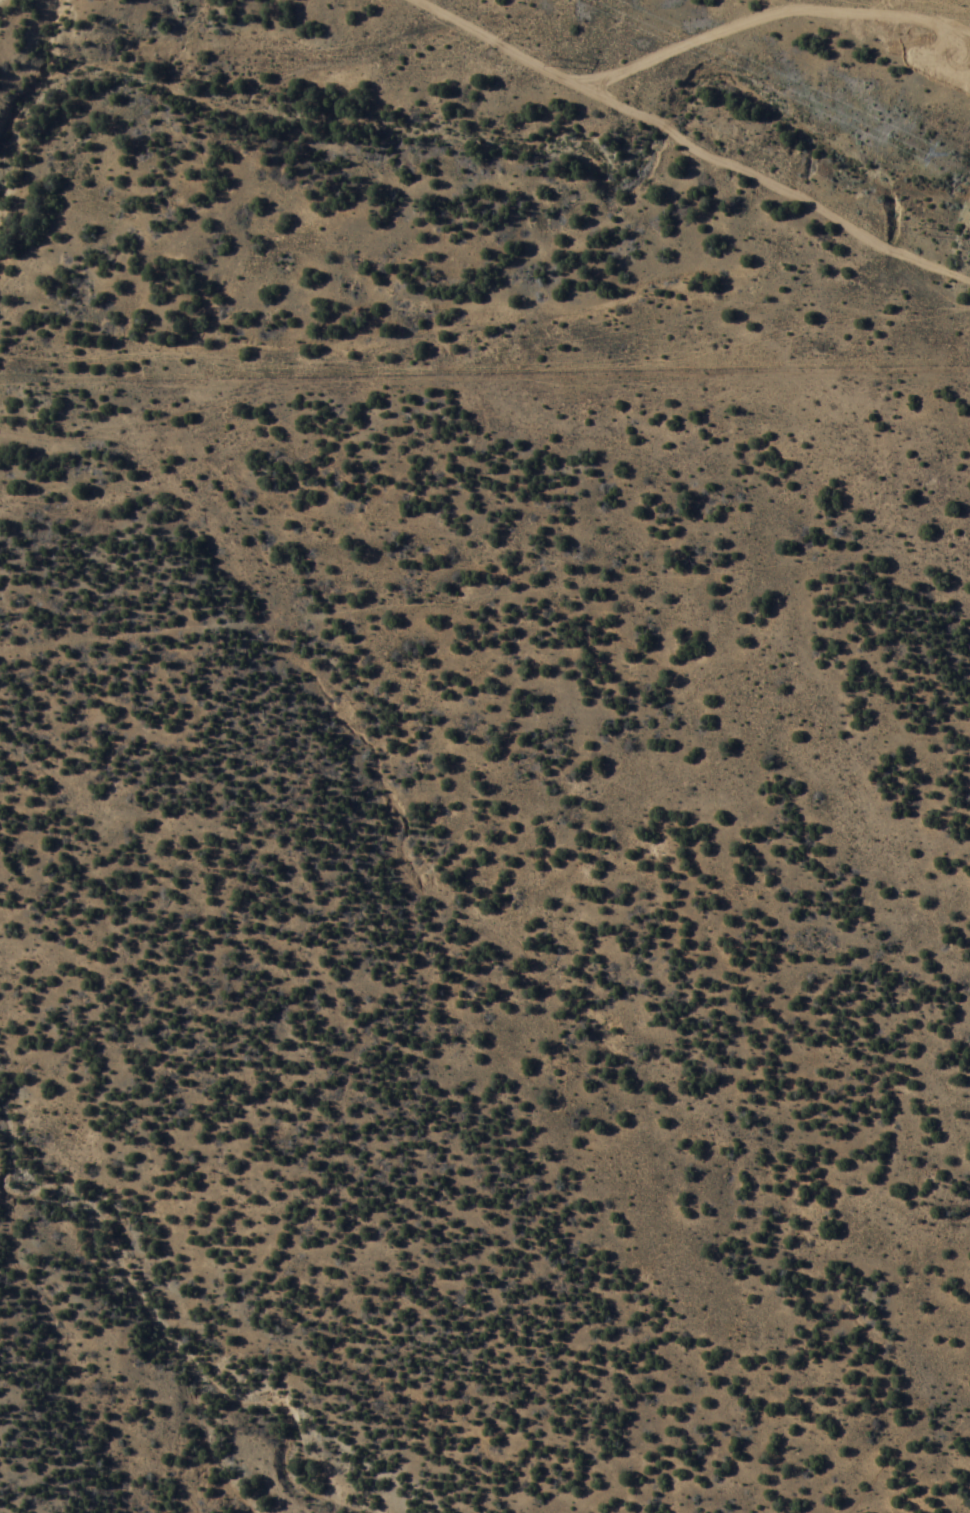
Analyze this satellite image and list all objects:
power tower: (950, 152)

